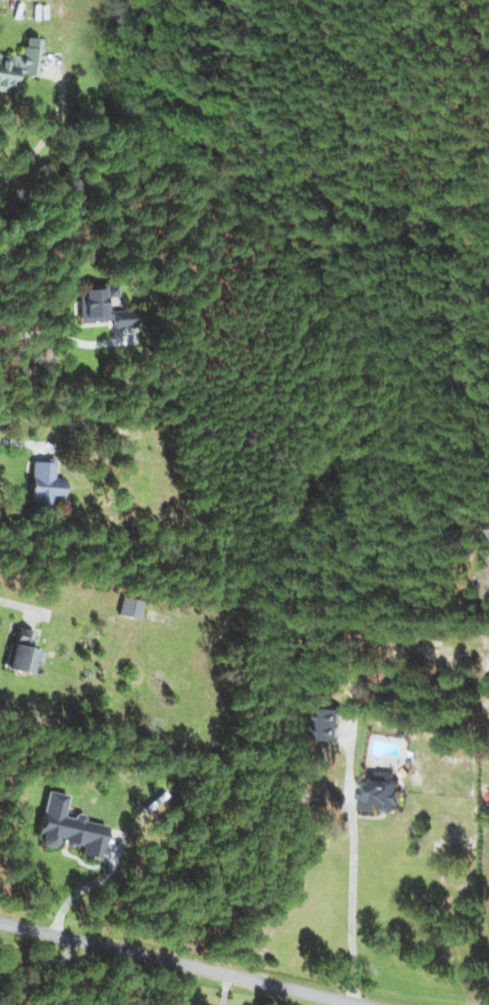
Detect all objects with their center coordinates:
building: (19, 65)
road: (48, 135)
building: (103, 306)
building: (42, 486)
building: (128, 608)
building: (21, 653)
building: (329, 724)
building: (381, 793)
building: (68, 827)
road: (353, 863)
road: (180, 964)
road: (56, 971)
road: (224, 990)

